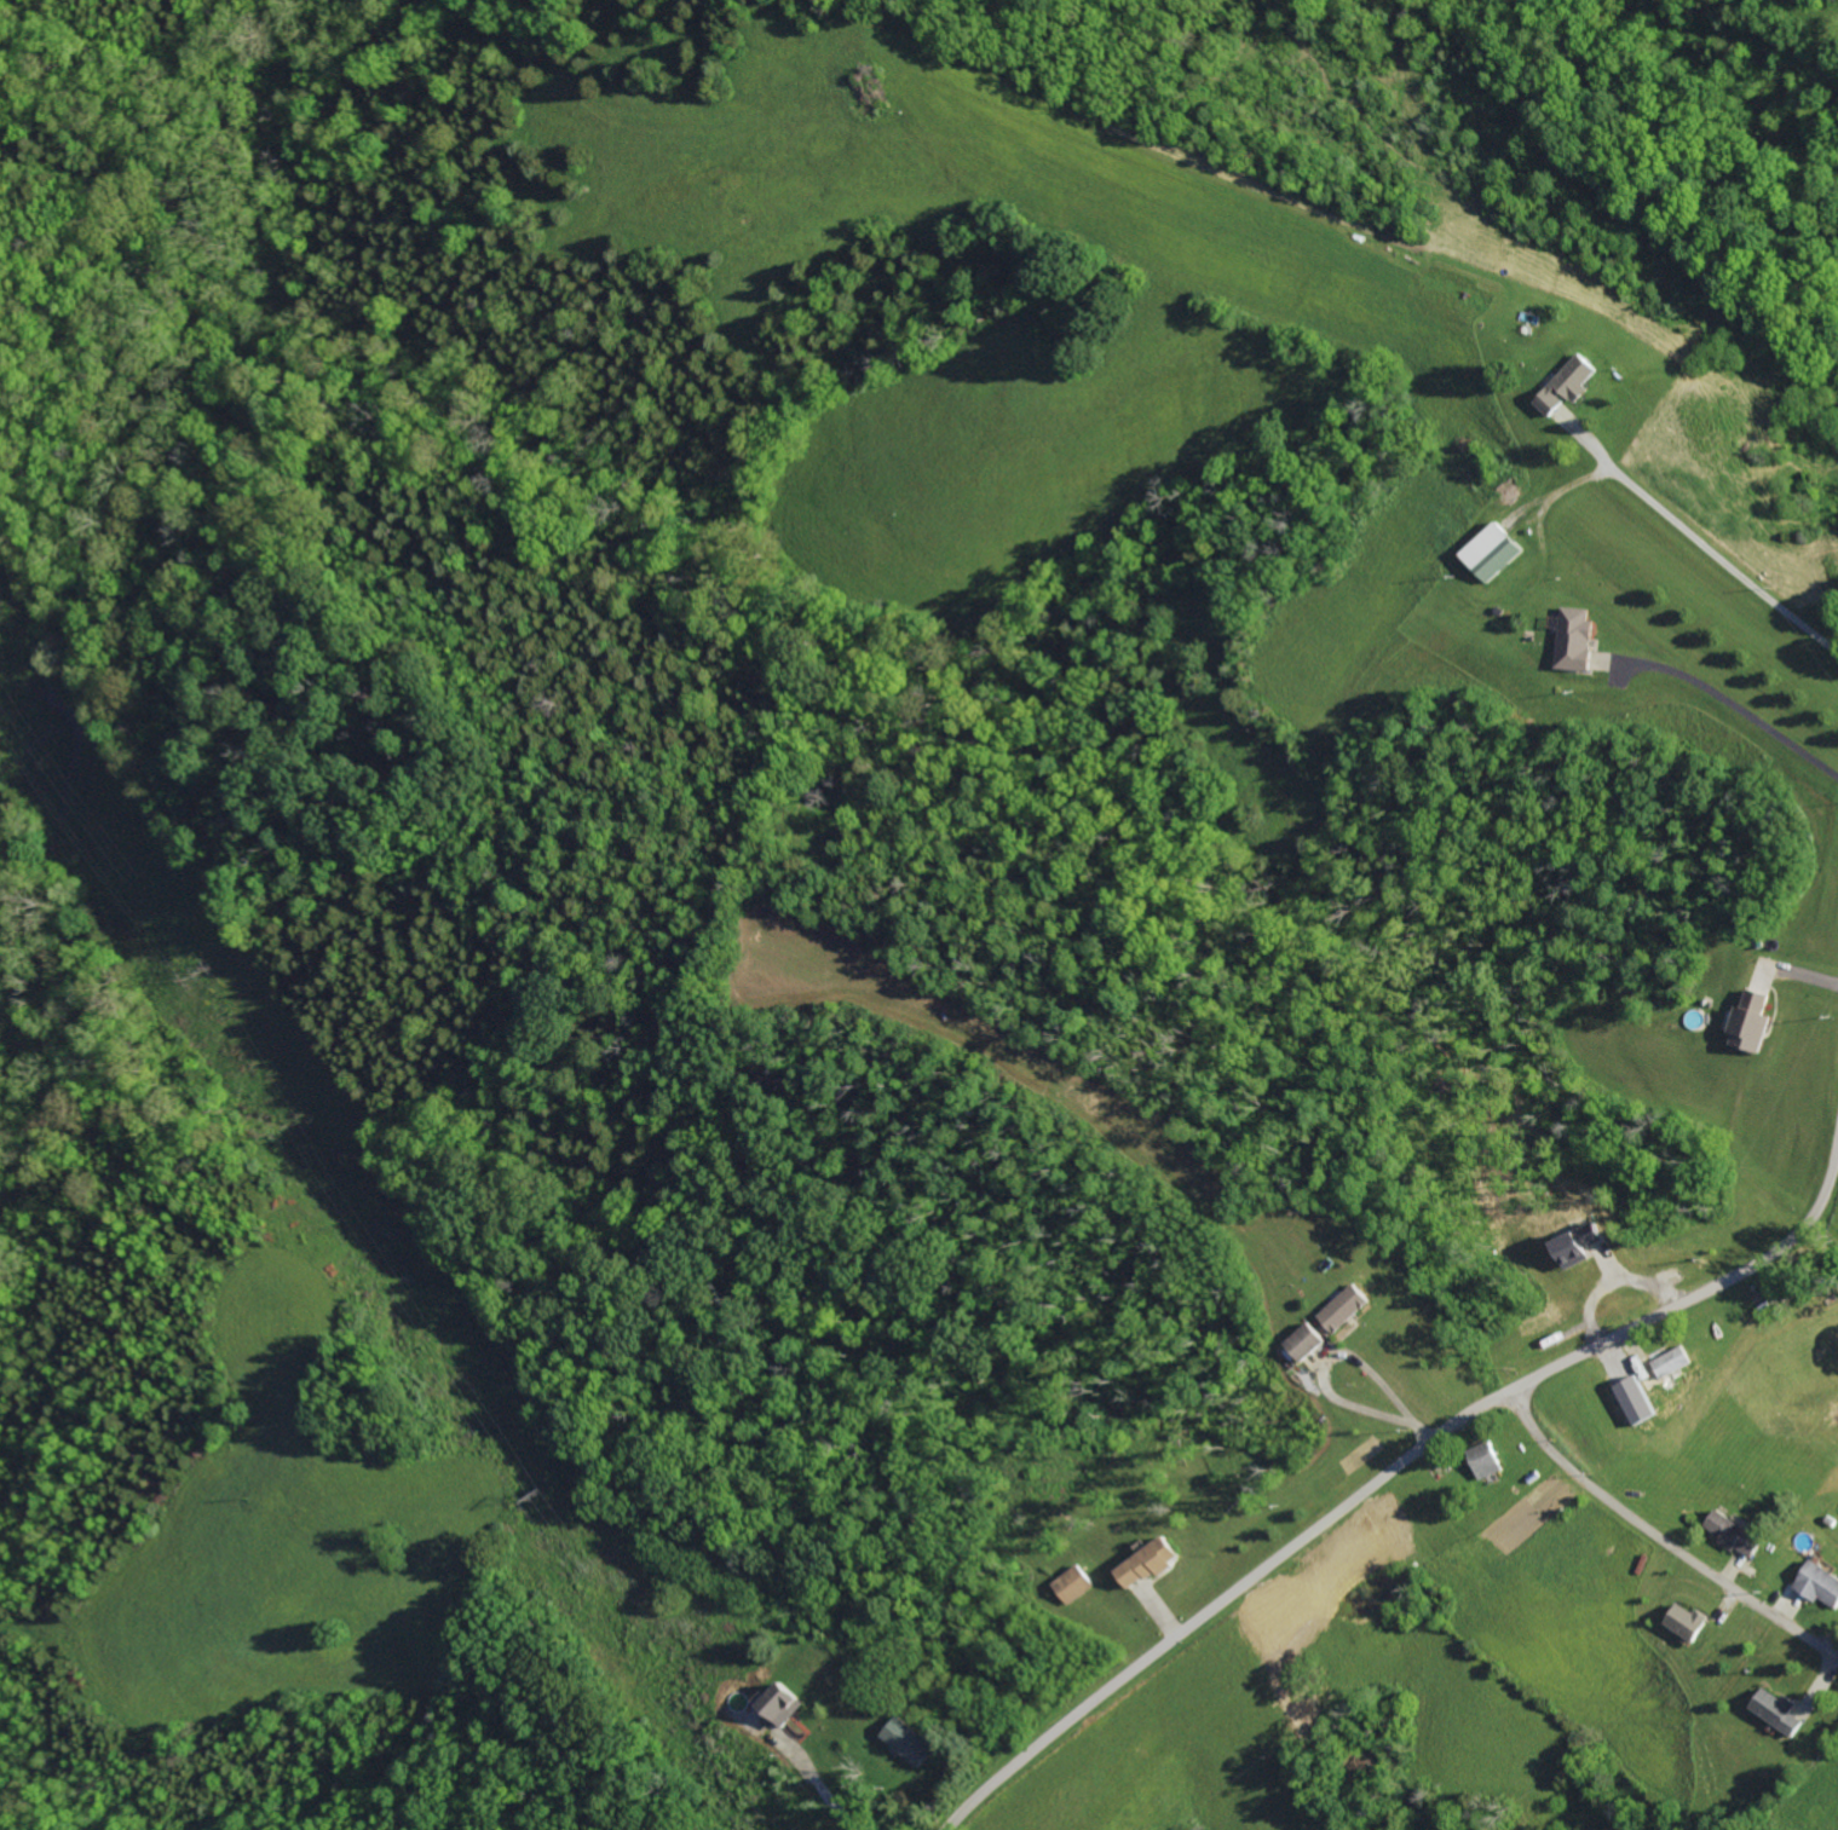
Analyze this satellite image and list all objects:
building: (1571, 385)
road: (1706, 544)
building: (1492, 552)
building: (1575, 639)
road: (1734, 704)
power tower: (208, 963)
building: (1752, 1022)
building: (1583, 1245)
park: (1809, 1268)
building: (1347, 1309)
building: (1307, 1343)
road: (1336, 1352)
building: (1665, 1368)
building: (1490, 1461)
road: (1387, 1480)
power tower: (536, 1500)
building: (1379, 1531)
building: (1739, 1532)
road: (1664, 1537)
building: (1151, 1561)
building: (1821, 1581)
building: (1074, 1582)
building: (1274, 1603)
building: (1689, 1620)
building: (783, 1703)
building: (1781, 1710)
building: (911, 1740)
road: (819, 1786)

